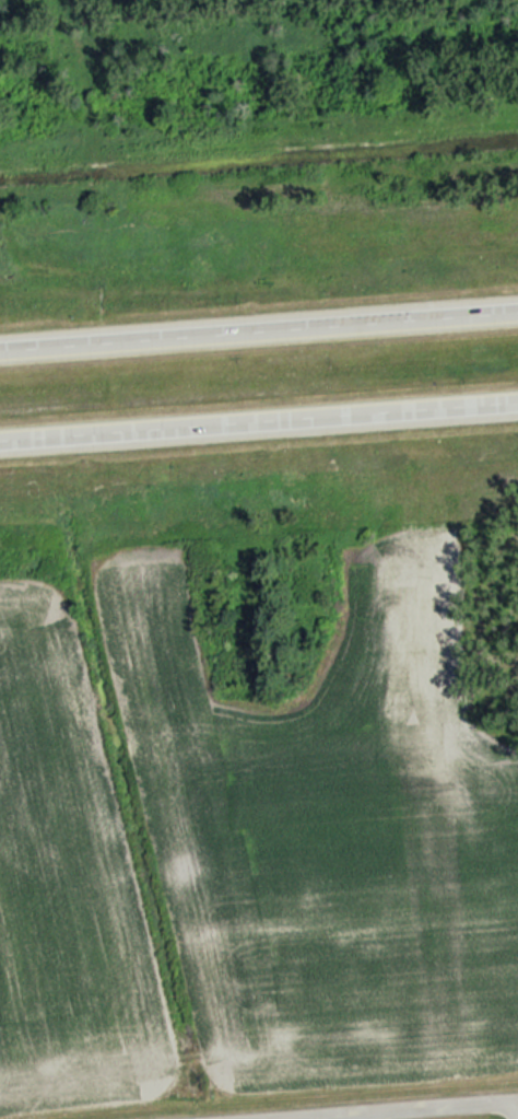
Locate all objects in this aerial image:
road: (258, 329)
road: (258, 418)
road: (416, 1110)

